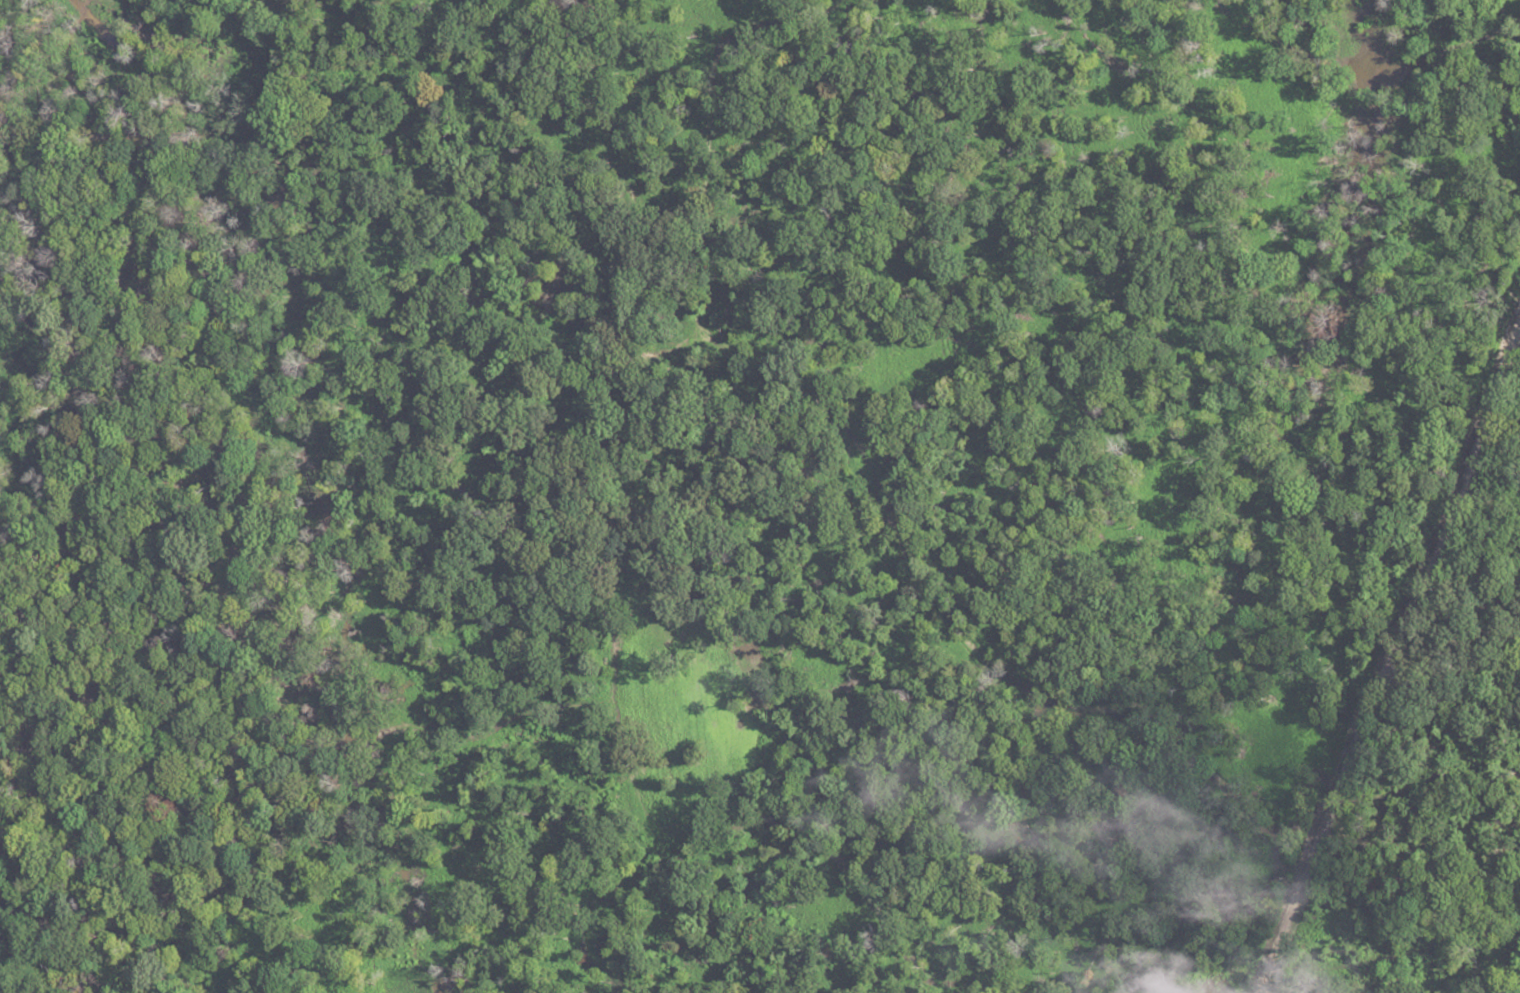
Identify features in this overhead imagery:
road: (1389, 680)

